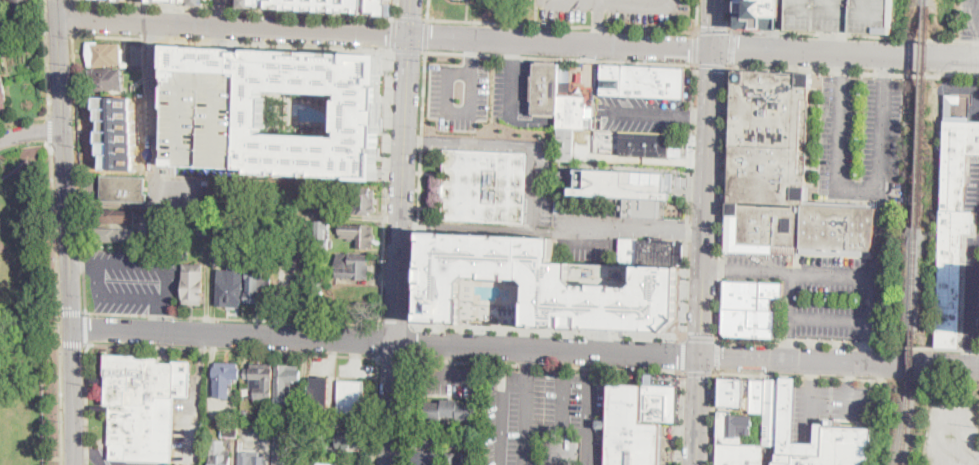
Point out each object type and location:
building: (107, 0)
road: (71, 1)
building: (176, 2)
road: (628, 2)
railway: (927, 2)
building: (22, 5)
building: (321, 5)
road: (395, 8)
road: (233, 9)
road: (427, 9)
road: (60, 10)
road: (598, 10)
parking lot: (621, 10)
road: (222, 13)
building: (750, 14)
building: (839, 14)
parking lot: (839, 14)
road: (729, 16)
road: (72, 17)
road: (411, 17)
road: (696, 17)
road: (410, 18)
parking lot: (971, 19)
road: (716, 23)
road: (563, 24)
road: (235, 28)
building: (3, 29)
road: (714, 30)
road: (597, 31)
road: (393, 32)
road: (425, 34)
road: (853, 34)
traffic signals: (410, 37)
road: (221, 39)
road: (828, 40)
road: (232, 41)
road: (562, 41)
road: (470, 45)
traffic signals: (715, 47)
road: (731, 47)
road: (513, 48)
road: (408, 49)
road: (695, 49)
road: (847, 52)
building: (103, 54)
road: (47, 56)
road: (560, 57)
road: (219, 63)
road: (710, 64)
road: (852, 71)
building: (565, 73)
building: (106, 79)
building: (644, 81)
building: (568, 83)
road: (512, 90)
building: (3, 92)
parking lot: (483, 92)
road: (159, 95)
building: (951, 103)
building: (561, 104)
road: (62, 112)
road: (648, 112)
road: (153, 113)
road: (455, 113)
parking lot: (642, 113)
road: (699, 115)
railway: (922, 115)
road: (24, 119)
building: (355, 120)
building: (200, 122)
parking lot: (200, 122)
road: (50, 128)
road: (32, 132)
building: (581, 135)
parking lot: (863, 135)
road: (420, 139)
road: (63, 142)
road: (528, 145)
building: (645, 145)
parking lot: (595, 147)
road: (596, 158)
road: (663, 162)
road: (79, 171)
building: (783, 175)
building: (615, 182)
road: (386, 186)
building: (486, 187)
road: (420, 188)
building: (124, 189)
road: (403, 190)
road: (858, 190)
building: (207, 192)
building: (359, 200)
road: (723, 200)
road: (689, 201)
road: (710, 201)
building: (557, 205)
building: (640, 209)
parking lot: (578, 215)
building: (113, 216)
road: (414, 225)
building: (954, 228)
building: (205, 230)
road: (689, 230)
road: (548, 231)
road: (881, 234)
building: (112, 235)
building: (323, 235)
building: (359, 235)
road: (69, 242)
road: (411, 245)
building: (651, 252)
road: (84, 262)
building: (353, 266)
road: (782, 271)
parking garage: (484, 275)
road: (855, 276)
building: (319, 277)
railway: (915, 277)
parking lot: (133, 278)
building: (232, 282)
building: (538, 282)
building: (193, 284)
building: (259, 288)
parking lot: (819, 292)
building: (752, 295)
road: (165, 296)
road: (58, 299)
road: (72, 311)
road: (161, 314)
road: (232, 317)
road: (831, 317)
building: (750, 323)
road: (395, 324)
road: (86, 326)
traffic signals: (73, 328)
road: (868, 328)
road: (548, 332)
road: (234, 335)
road: (701, 338)
road: (378, 339)
road: (73, 342)
road: (412, 342)
road: (848, 343)
road: (791, 347)
road: (232, 349)
road: (550, 349)
road: (867, 351)
road: (685, 354)
road: (395, 356)
road: (718, 356)
traffic signals: (704, 357)
road: (449, 360)
road: (466, 360)
road: (531, 360)
railway: (911, 362)
road: (841, 363)
road: (528, 364)
road: (200, 365)
road: (611, 368)
road: (812, 370)
road: (700, 371)
road: (851, 373)
road: (450, 376)
road: (847, 376)
building: (225, 378)
parking lot: (448, 379)
building: (262, 382)
building: (286, 382)
building: (320, 392)
building: (351, 397)
road: (850, 397)
building: (660, 400)
parking lot: (829, 402)
road: (86, 403)
building: (142, 403)
road: (564, 403)
road: (393, 404)
building: (763, 404)
road: (810, 408)
road: (375, 410)
road: (503, 410)
road: (700, 410)
road: (410, 411)
building: (450, 411)
building: (244, 415)
building: (319, 417)
road: (529, 418)
road: (681, 418)
parking lot: (546, 419)
road: (714, 419)
building: (343, 420)
road: (589, 422)
parking lot: (187, 423)
parking lot: (951, 428)
road: (192, 430)
building: (230, 430)
building: (628, 430)
railway: (905, 430)
building: (352, 438)
building: (420, 440)
building: (473, 441)
building: (737, 441)
road: (588, 448)
building: (836, 448)
building: (286, 450)
parking lot: (98, 453)
road: (87, 454)
building: (250, 456)
building: (221, 457)
building: (427, 458)
road: (102, 459)
building: (456, 459)
building: (331, 464)

